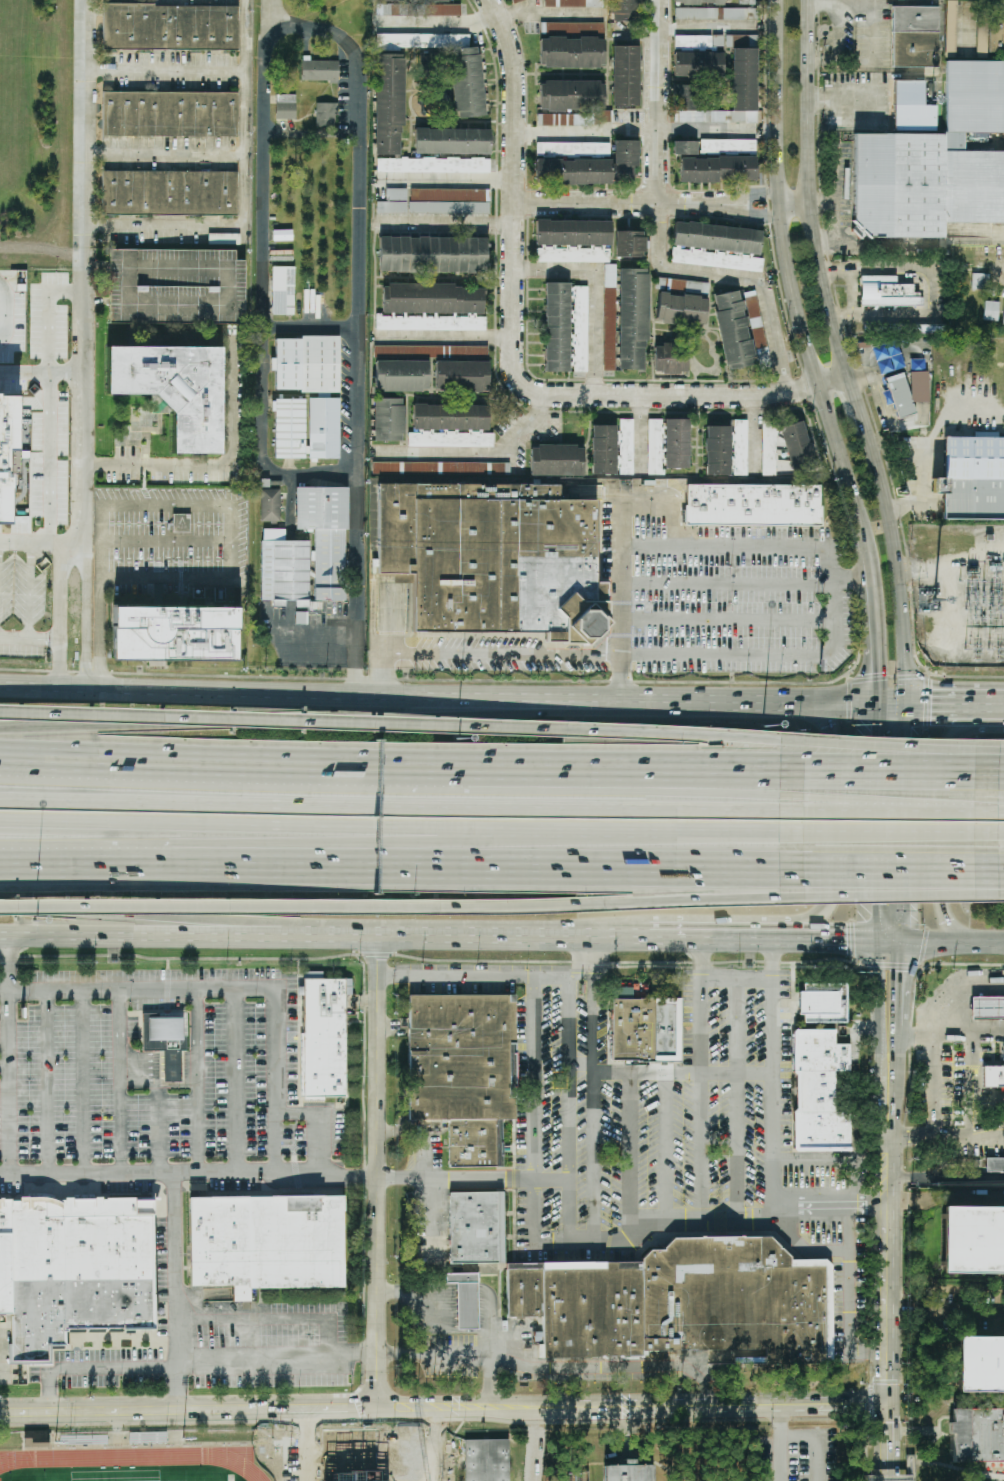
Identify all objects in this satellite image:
building: (414, 0)
building: (516, 1)
building: (697, 1)
building: (574, 3)
building: (418, 10)
building: (627, 10)
road: (551, 12)
building: (711, 13)
road: (438, 26)
building: (170, 27)
road: (704, 27)
road: (873, 35)
building: (989, 35)
building: (915, 36)
building: (572, 45)
building: (744, 60)
building: (698, 64)
road: (163, 70)
building: (320, 70)
building: (625, 75)
building: (467, 83)
building: (571, 96)
road: (853, 98)
building: (389, 105)
building: (285, 107)
road: (882, 107)
building: (912, 108)
building: (169, 114)
building: (326, 115)
building: (573, 119)
road: (633, 131)
building: (452, 141)
building: (573, 148)
road: (163, 154)
building: (716, 160)
building: (936, 163)
building: (591, 167)
road: (446, 178)
road: (835, 185)
road: (808, 190)
building: (169, 193)
road: (241, 193)
road: (747, 193)
building: (396, 194)
building: (440, 202)
road: (617, 202)
road: (792, 202)
road: (748, 215)
road: (446, 223)
building: (224, 239)
road: (827, 240)
building: (573, 241)
building: (629, 243)
road: (657, 243)
building: (716, 246)
road: (901, 248)
building: (432, 255)
road: (514, 255)
building: (610, 276)
road: (257, 281)
building: (979, 281)
road: (791, 282)
building: (176, 286)
building: (283, 290)
road: (853, 291)
road: (930, 291)
building: (887, 292)
road: (594, 293)
building: (432, 308)
building: (681, 308)
building: (991, 310)
building: (632, 317)
building: (1003, 318)
road: (8, 321)
building: (756, 322)
road: (355, 328)
building: (566, 328)
building: (929, 328)
road: (306, 329)
building: (734, 329)
road: (446, 337)
road: (82, 345)
building: (609, 347)
building: (431, 351)
building: (762, 355)
building: (307, 364)
building: (402, 376)
building: (462, 376)
road: (41, 378)
road: (832, 382)
building: (174, 389)
building: (898, 395)
road: (732, 397)
road: (855, 408)
building: (389, 419)
building: (451, 426)
building: (306, 428)
road: (639, 432)
road: (753, 434)
building: (6, 443)
building: (676, 443)
road: (930, 444)
building: (626, 445)
building: (797, 445)
building: (604, 450)
building: (717, 450)
road: (476, 451)
road: (48, 459)
building: (557, 460)
road: (213, 463)
building: (440, 468)
building: (973, 478)
building: (432, 479)
building: (270, 505)
building: (752, 506)
road: (660, 508)
building: (373, 514)
road: (234, 525)
building: (325, 538)
road: (43, 541)
road: (724, 546)
road: (102, 547)
building: (494, 559)
building: (284, 568)
road: (897, 569)
road: (848, 580)
road: (724, 584)
road: (31, 592)
power substation: (959, 593)
road: (827, 600)
road: (621, 601)
parking lot: (700, 604)
road: (58, 614)
road: (724, 622)
road: (877, 630)
building: (174, 634)
road: (29, 643)
road: (501, 654)
road: (724, 655)
traffic signals: (881, 672)
road: (382, 674)
road: (297, 693)
road: (740, 702)
road: (895, 705)
traffic signals: (933, 705)
road: (947, 705)
road: (996, 706)
road: (298, 716)
road: (282, 720)
road: (682, 736)
traffic signals: (906, 739)
road: (887, 753)
road: (232, 760)
road: (988, 761)
road: (632, 768)
road: (887, 773)
road: (988, 774)
road: (632, 782)
road: (905, 796)
road: (400, 802)
road: (851, 804)
road: (851, 808)
road: (937, 809)
road: (988, 810)
road: (882, 822)
road: (948, 822)
road: (312, 823)
road: (831, 824)
road: (712, 826)
road: (887, 827)
road: (988, 828)
road: (437, 843)
road: (125, 858)
road: (525, 862)
road: (887, 864)
road: (988, 865)
road: (988, 885)
road: (886, 891)
road: (688, 900)
traffic signals: (882, 904)
road: (288, 908)
road: (903, 914)
road: (160, 917)
road: (484, 937)
road: (160, 938)
road: (719, 939)
road: (835, 939)
traffic signals: (847, 939)
traffic signals: (903, 941)
road: (928, 941)
road: (990, 943)
road: (580, 957)
road: (475, 975)
road: (738, 978)
road: (899, 984)
road: (228, 989)
building: (622, 992)
building: (822, 995)
road: (597, 1000)
road: (702, 1006)
road: (884, 1006)
road: (949, 1009)
building: (988, 1009)
building: (820, 1026)
building: (646, 1029)
building: (164, 1031)
building: (323, 1037)
road: (7, 1056)
road: (567, 1064)
road: (4, 1066)
road: (159, 1069)
building: (464, 1071)
road: (683, 1073)
building: (994, 1074)
road: (892, 1075)
road: (533, 1076)
road: (198, 1079)
road: (236, 1080)
road: (84, 1081)
road: (121, 1081)
road: (48, 1082)
road: (934, 1085)
building: (820, 1092)
road: (738, 1097)
road: (888, 1098)
road: (571, 1108)
road: (319, 1120)
road: (773, 1122)
road: (991, 1129)
road: (160, 1130)
road: (933, 1135)
road: (667, 1146)
road: (702, 1146)
road: (593, 1156)
road: (630, 1156)
building: (995, 1165)
road: (190, 1171)
road: (380, 1174)
road: (456, 1177)
road: (552, 1178)
road: (430, 1200)
road: (945, 1200)
road: (676, 1218)
building: (476, 1228)
building: (973, 1240)
building: (266, 1242)
building: (75, 1263)
road: (889, 1263)
road: (418, 1291)
road: (466, 1291)
road: (175, 1293)
road: (849, 1295)
building: (465, 1299)
building: (681, 1302)
road: (947, 1314)
road: (489, 1318)
road: (269, 1321)
building: (1003, 1328)
road: (441, 1354)
road: (278, 1355)
building: (981, 1364)
road: (88, 1368)
road: (593, 1368)
traffic signals: (892, 1404)
road: (804, 1406)
road: (548, 1407)
road: (190, 1414)
building: (987, 1430)
road: (892, 1437)
building: (36, 1438)
road: (820, 1439)
road: (782, 1443)
road: (306, 1447)
track: (138, 1459)
building: (475, 1461)
building: (616, 1473)
building: (642, 1475)
road: (892, 1476)

